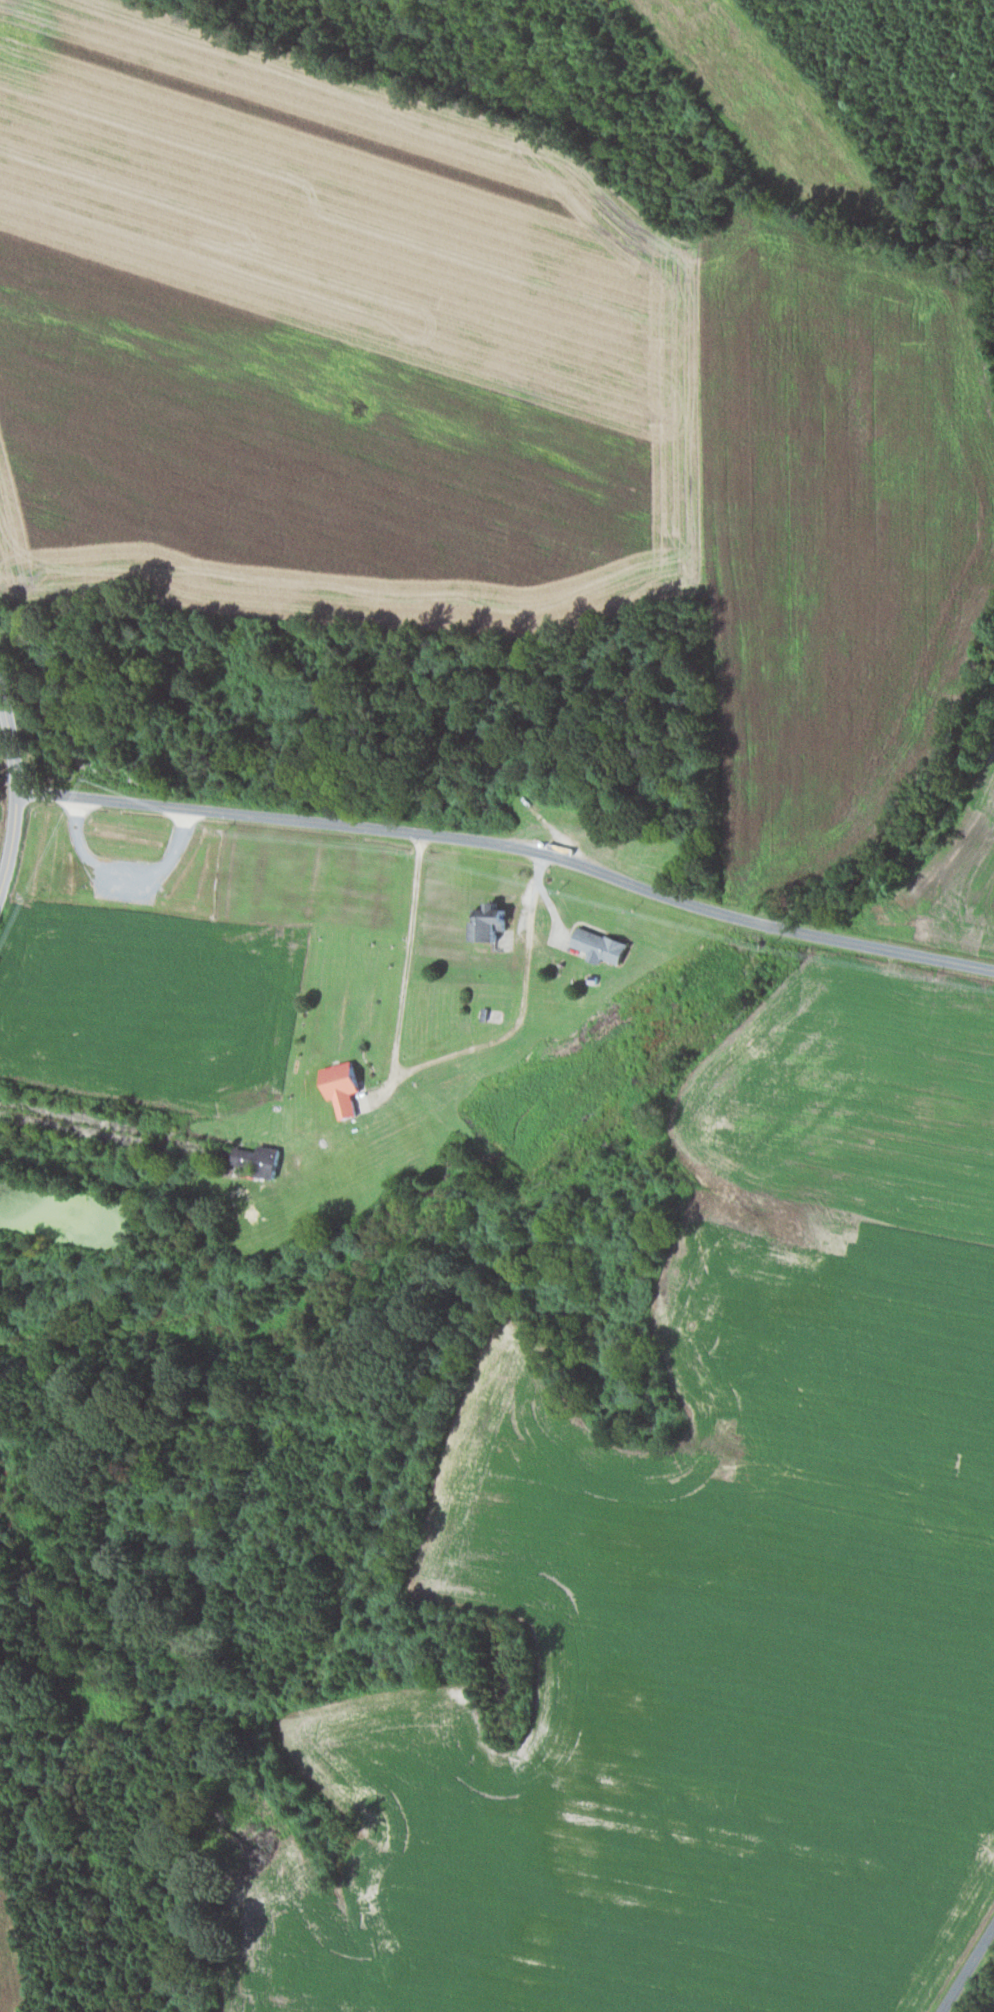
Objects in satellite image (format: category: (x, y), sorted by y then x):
road: (19, 787)
road: (513, 840)
building: (495, 922)
building: (603, 945)
road: (431, 1061)
building: (345, 1086)
building: (364, 1103)
building: (261, 1159)
road: (966, 1967)

